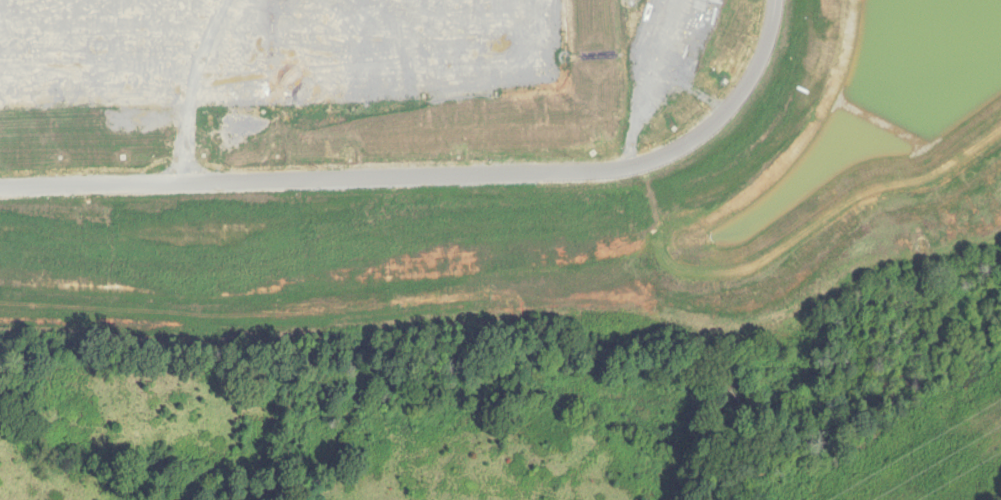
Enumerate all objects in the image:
road: (183, 88)
road: (433, 178)

